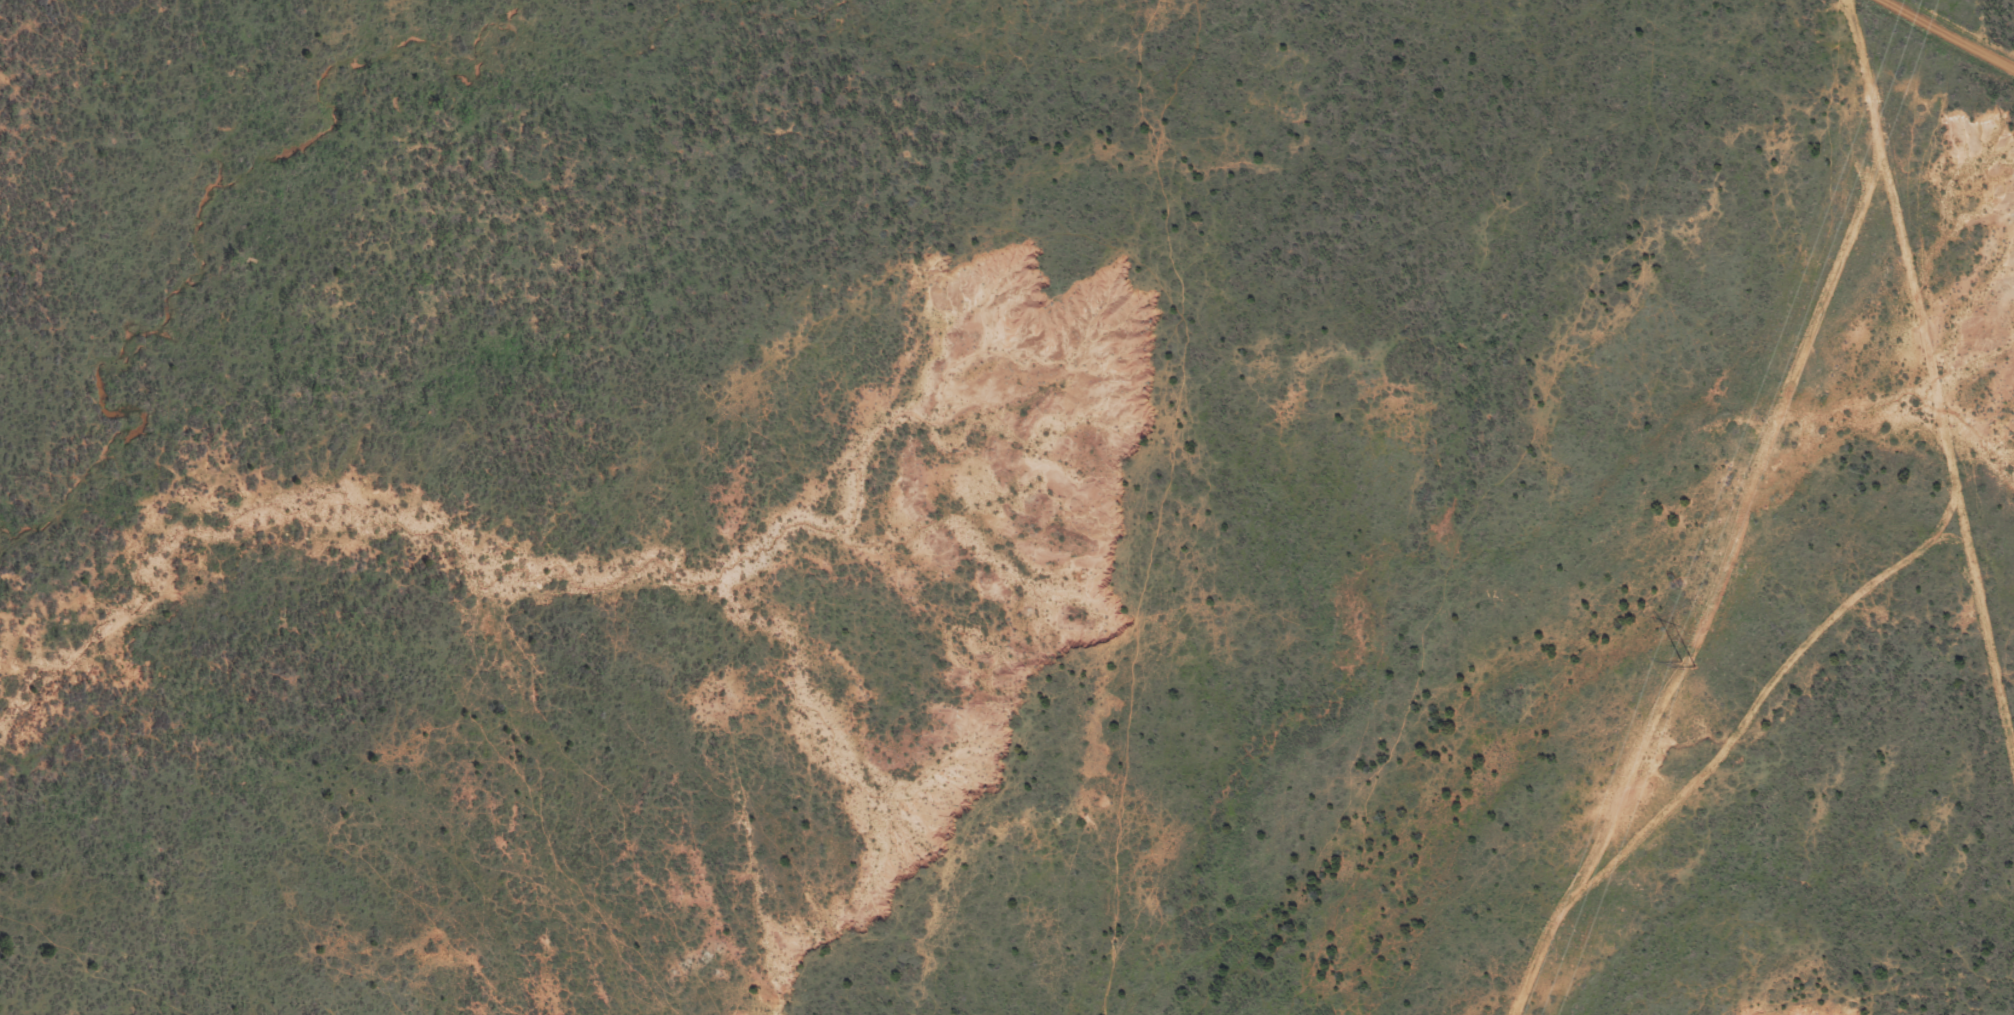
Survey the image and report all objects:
road: (1930, 48)
power tower: (1683, 667)

